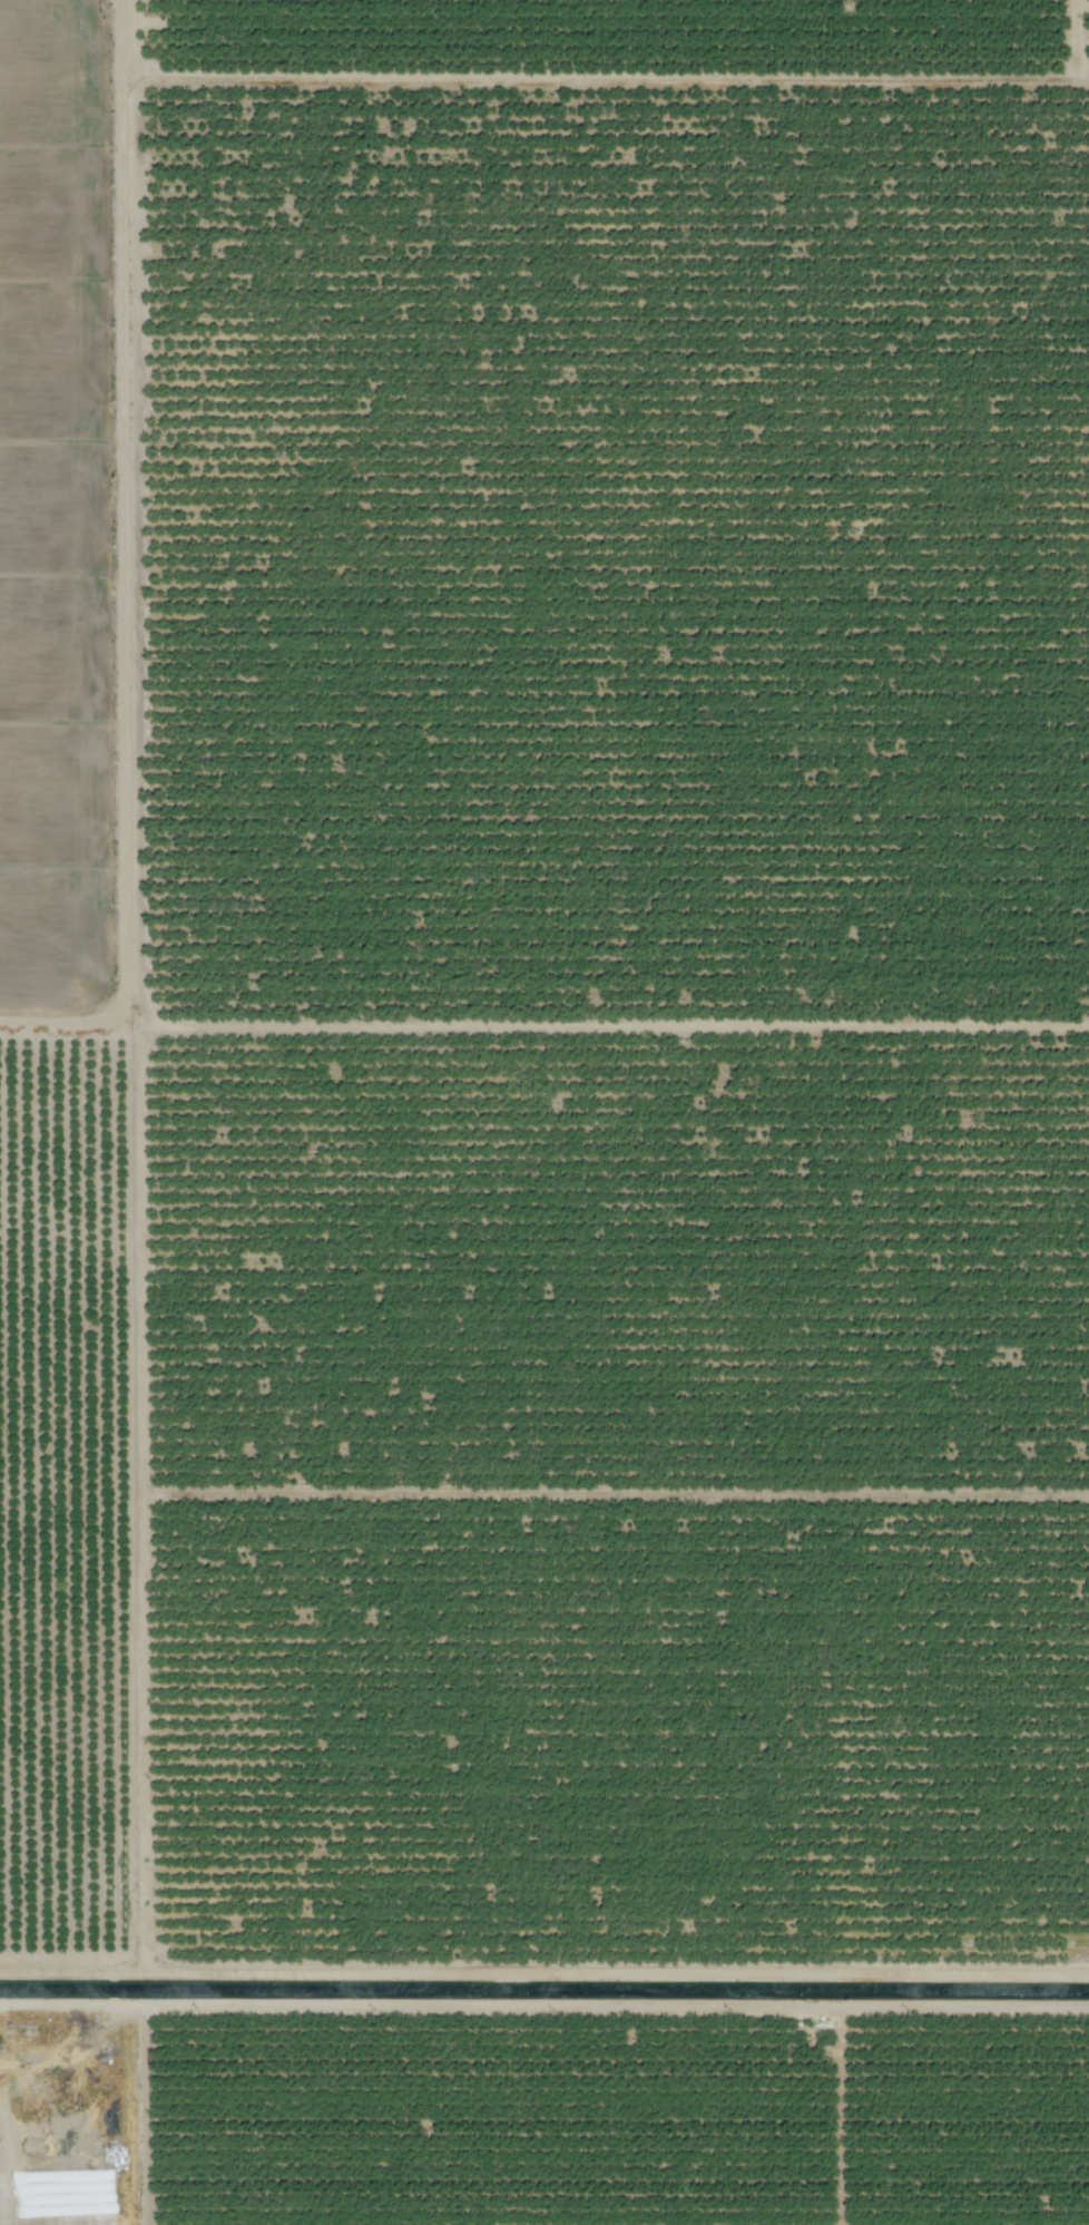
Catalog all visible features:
road: (1075, 46)
road: (557, 80)
building: (49, 2192)

